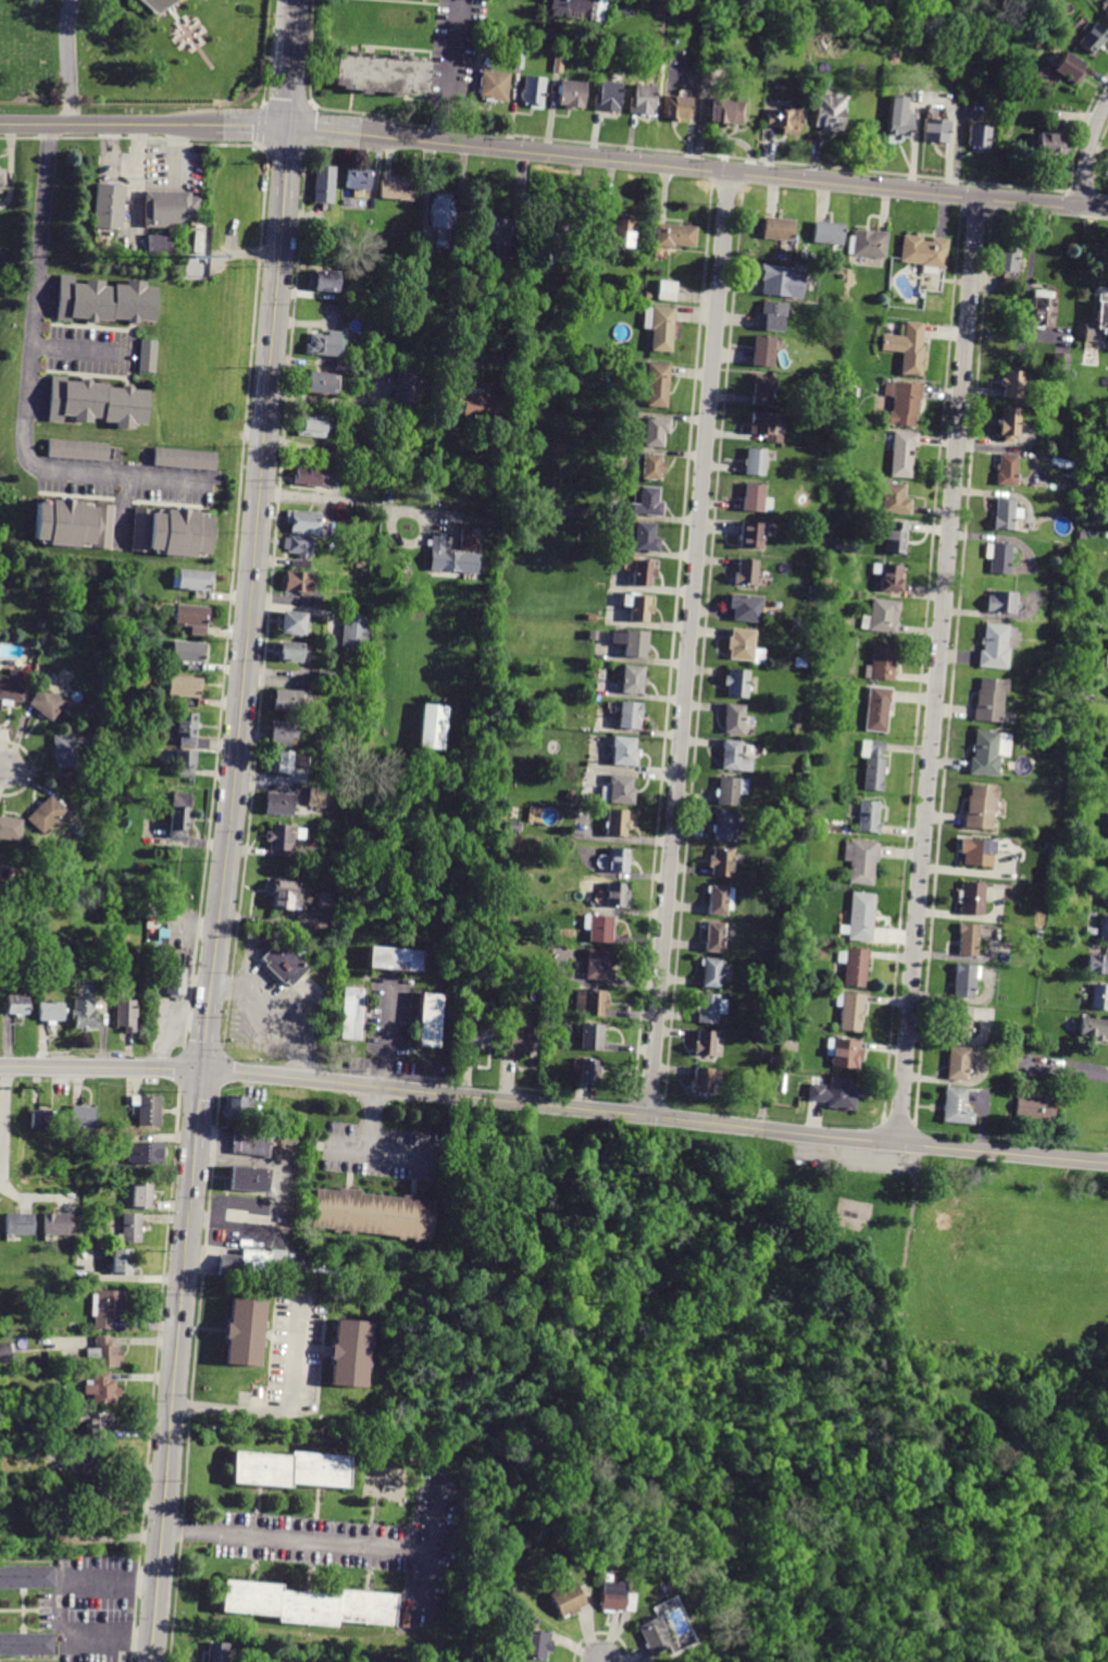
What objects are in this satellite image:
building: (152, 5)
building: (586, 8)
building: (1106, 14)
building: (1092, 38)
building: (486, 44)
building: (518, 61)
road: (70, 62)
park: (144, 62)
building: (558, 62)
building: (1069, 67)
road: (451, 72)
building: (382, 75)
building: (496, 86)
building: (534, 90)
building: (572, 94)
building: (608, 97)
building: (643, 101)
building: (676, 108)
building: (726, 111)
building: (830, 113)
building: (898, 119)
building: (784, 121)
road: (140, 125)
traffic signals: (283, 128)
building: (936, 131)
building: (979, 136)
building: (1049, 145)
road: (1087, 152)
road: (125, 161)
road: (695, 166)
building: (2, 181)
building: (359, 182)
building: (324, 187)
building: (398, 189)
building: (108, 208)
building: (170, 210)
building: (443, 215)
building: (552, 225)
building: (777, 228)
building: (827, 234)
building: (497, 235)
building: (623, 235)
building: (674, 236)
building: (197, 241)
building: (158, 244)
building: (868, 244)
building: (923, 252)
road: (455, 255)
building: (567, 258)
building: (1009, 262)
building: (512, 271)
building: (326, 280)
building: (776, 281)
building: (667, 290)
building: (104, 301)
building: (594, 307)
building: (1041, 309)
building: (400, 315)
building: (772, 317)
building: (1097, 321)
road: (966, 323)
building: (660, 326)
building: (324, 345)
road: (75, 347)
building: (907, 347)
building: (762, 350)
building: (147, 356)
building: (1060, 361)
building: (343, 367)
road: (29, 382)
building: (319, 383)
building: (658, 384)
building: (1013, 384)
building: (407, 387)
building: (763, 389)
road: (327, 400)
building: (99, 401)
building: (474, 402)
building: (904, 404)
building: (1008, 423)
building: (312, 426)
building: (764, 426)
building: (657, 432)
building: (905, 454)
building: (329, 455)
building: (83, 456)
building: (758, 461)
building: (184, 463)
building: (653, 467)
building: (1007, 470)
building: (316, 475)
building: (390, 482)
building: (1085, 484)
building: (498, 497)
road: (324, 498)
building: (756, 498)
building: (896, 498)
building: (647, 501)
building: (1005, 513)
road: (423, 519)
building: (302, 522)
building: (64, 525)
building: (173, 533)
building: (751, 535)
building: (647, 537)
building: (471, 538)
building: (896, 538)
building: (298, 545)
building: (837, 547)
building: (999, 557)
building: (450, 558)
building: (299, 563)
building: (642, 571)
building: (746, 572)
building: (889, 576)
building: (192, 582)
building: (298, 582)
building: (812, 591)
building: (1000, 603)
building: (637, 606)
building: (746, 608)
building: (882, 616)
building: (191, 618)
building: (590, 618)
building: (290, 622)
building: (42, 624)
building: (795, 624)
building: (356, 630)
building: (593, 635)
road: (689, 642)
building: (633, 643)
building: (744, 646)
building: (995, 646)
building: (288, 652)
building: (189, 654)
building: (1107, 659)
building: (799, 662)
building: (881, 662)
building: (325, 675)
building: (633, 680)
building: (737, 683)
building: (182, 686)
building: (315, 686)
building: (11, 687)
building: (291, 700)
building: (991, 700)
building: (48, 703)
building: (876, 708)
building: (630, 716)
building: (734, 719)
building: (433, 727)
building: (186, 728)
building: (282, 733)
building: (800, 747)
building: (64, 752)
building: (624, 752)
building: (989, 753)
building: (731, 755)
building: (290, 761)
building: (185, 762)
building: (873, 765)
road: (2, 768)
building: (730, 790)
building: (619, 791)
building: (809, 794)
building: (571, 795)
road: (926, 795)
building: (316, 797)
building: (278, 804)
building: (982, 807)
building: (45, 815)
building: (180, 815)
building: (867, 816)
building: (617, 822)
building: (515, 827)
building: (725, 827)
building: (10, 829)
road: (228, 831)
building: (348, 834)
building: (284, 835)
building: (978, 852)
building: (620, 860)
building: (862, 860)
building: (722, 863)
building: (1107, 863)
building: (1073, 867)
building: (286, 895)
building: (618, 895)
building: (1104, 895)
building: (973, 897)
building: (720, 900)
building: (325, 901)
building: (862, 916)
building: (599, 928)
building: (1103, 928)
building: (1090, 931)
building: (1037, 934)
building: (715, 937)
building: (968, 939)
building: (396, 959)
building: (285, 962)
building: (597, 965)
building: (1097, 965)
building: (855, 966)
building: (169, 972)
building: (712, 972)
building: (1043, 978)
building: (966, 981)
building: (1098, 996)
building: (592, 1002)
building: (17, 1005)
building: (711, 1007)
building: (850, 1010)
building: (50, 1013)
building: (125, 1014)
building: (352, 1014)
building: (84, 1015)
road: (270, 1016)
building: (431, 1020)
building: (960, 1022)
building: (1092, 1029)
building: (1028, 1034)
road: (387, 1035)
building: (480, 1035)
building: (593, 1037)
building: (1036, 1037)
building: (523, 1041)
building: (706, 1043)
building: (844, 1053)
building: (959, 1063)
traffic signals: (201, 1068)
building: (590, 1071)
road: (1065, 1071)
building: (704, 1081)
building: (834, 1094)
road: (555, 1104)
building: (237, 1106)
building: (957, 1106)
building: (1031, 1108)
building: (146, 1109)
building: (82, 1117)
building: (42, 1119)
road: (3, 1126)
building: (251, 1142)
road: (365, 1146)
building: (145, 1153)
building: (248, 1179)
road: (32, 1196)
building: (140, 1196)
building: (374, 1216)
building: (18, 1224)
building: (57, 1225)
building: (129, 1228)
building: (121, 1262)
building: (245, 1265)
building: (107, 1307)
building: (238, 1329)
building: (341, 1351)
building: (7, 1352)
building: (104, 1352)
park: (837, 1378)
building: (101, 1389)
building: (259, 1393)
road: (284, 1407)
building: (97, 1424)
building: (87, 1453)
building: (422, 1460)
building: (287, 1469)
building: (97, 1496)
building: (618, 1533)
building: (72, 1534)
road: (297, 1540)
building: (26, 1577)
building: (615, 1597)
building: (568, 1600)
building: (301, 1603)
road: (61, 1609)
building: (402, 1617)
building: (655, 1635)
building: (26, 1645)
building: (536, 1645)
building: (217, 1652)
road: (600, 1661)

